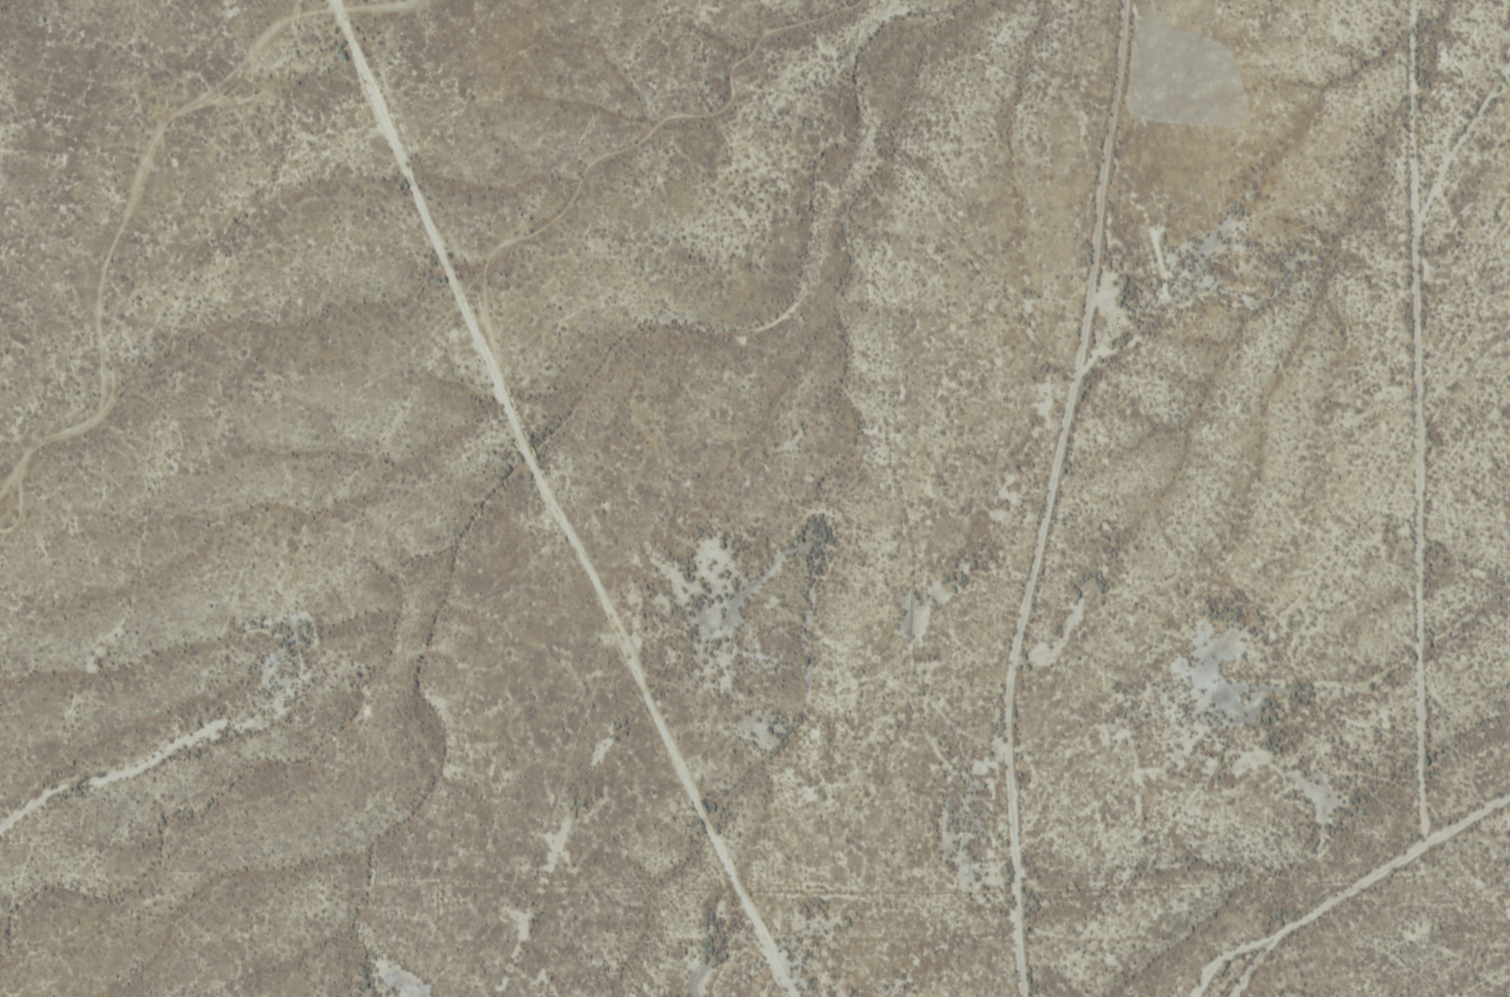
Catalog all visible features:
road: (1060, 495)

